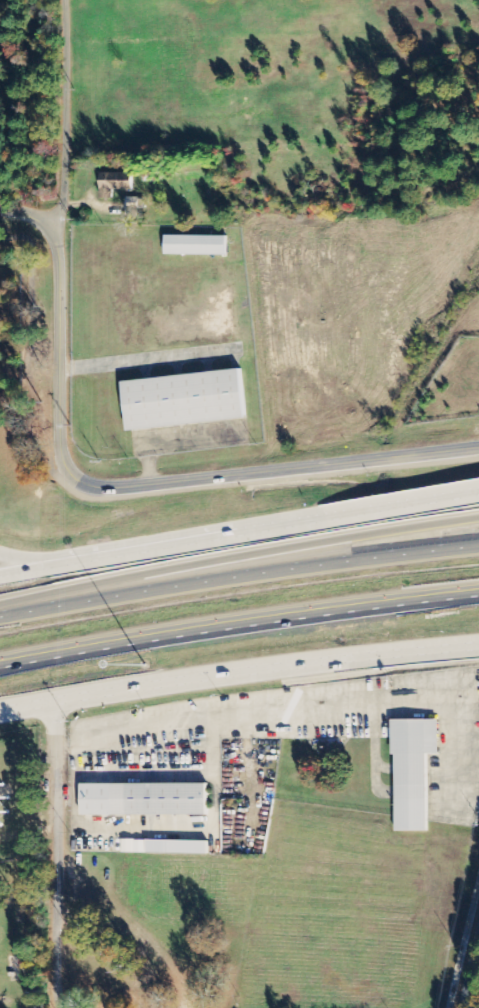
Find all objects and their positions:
road: (57, 115)
building: (114, 184)
building: (133, 204)
building: (196, 243)
building: (185, 399)
road: (121, 487)
road: (357, 514)
road: (134, 552)
road: (237, 554)
road: (16, 561)
road: (16, 573)
road: (238, 575)
road: (239, 621)
street lamp: (147, 664)
road: (238, 673)
building: (412, 771)
building: (144, 800)
building: (165, 847)
road: (56, 854)
park: (23, 932)
road: (465, 955)

